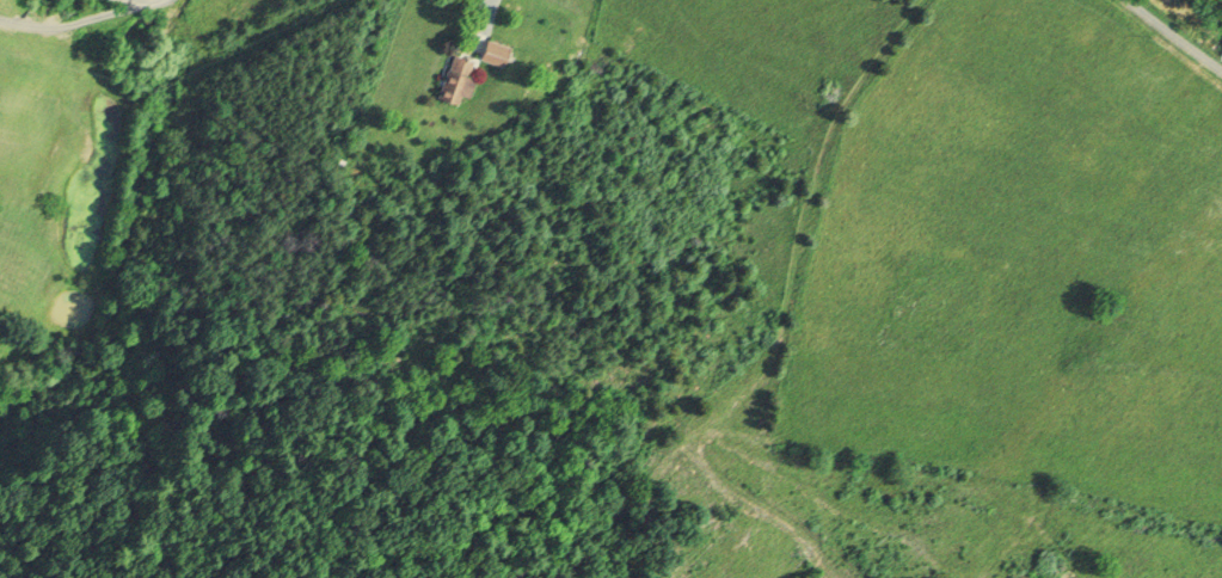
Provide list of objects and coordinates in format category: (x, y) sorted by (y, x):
building: (458, 78)

